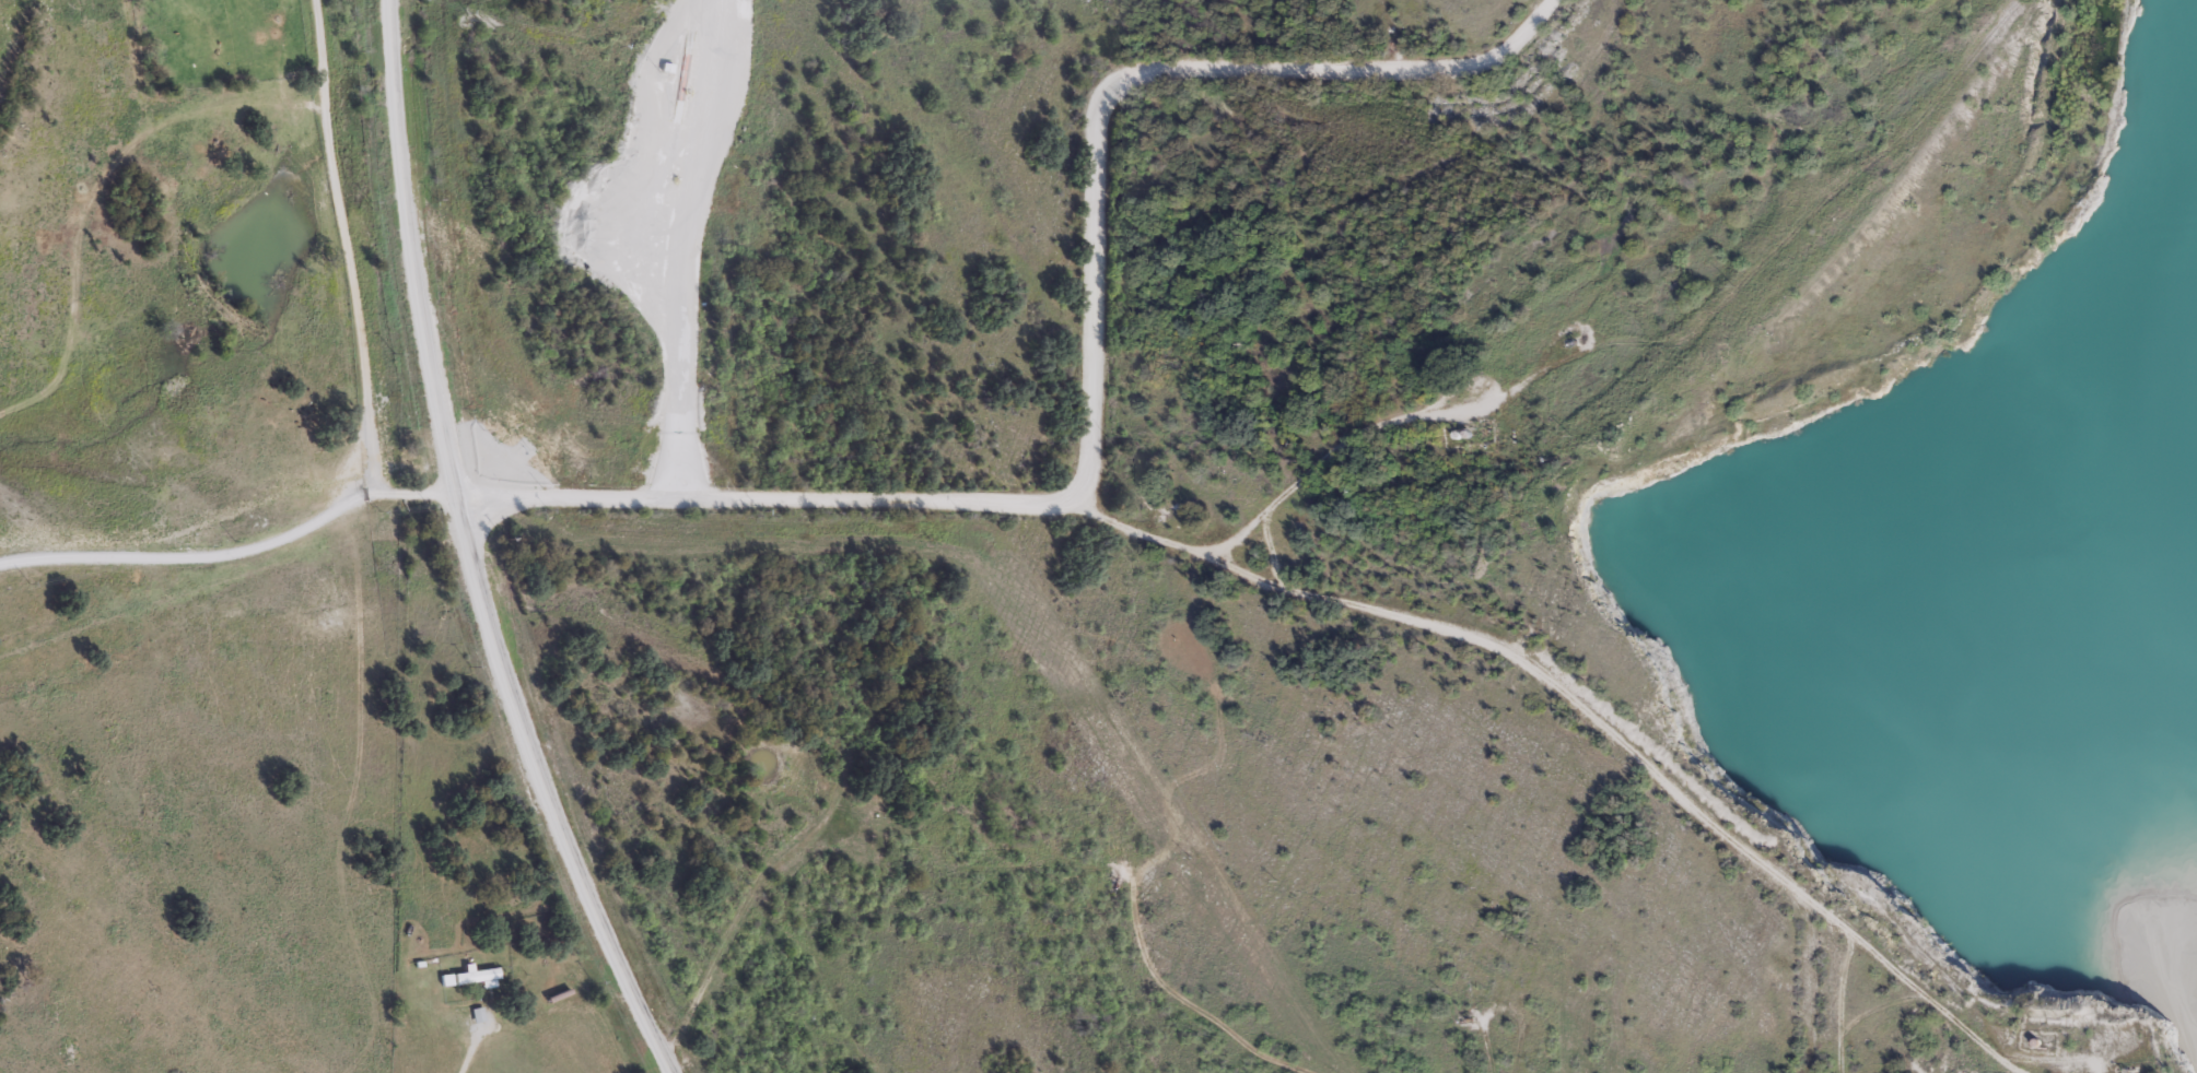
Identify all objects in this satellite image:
road: (1391, 33)
road: (1131, 73)
road: (683, 245)
road: (346, 247)
road: (1332, 446)
road: (762, 494)
road: (232, 546)
road: (470, 552)
road: (1590, 714)
road: (787, 852)
building: (476, 975)
road: (1839, 998)
road: (1182, 1000)
road: (1499, 1010)
building: (479, 1014)
road: (469, 1051)

